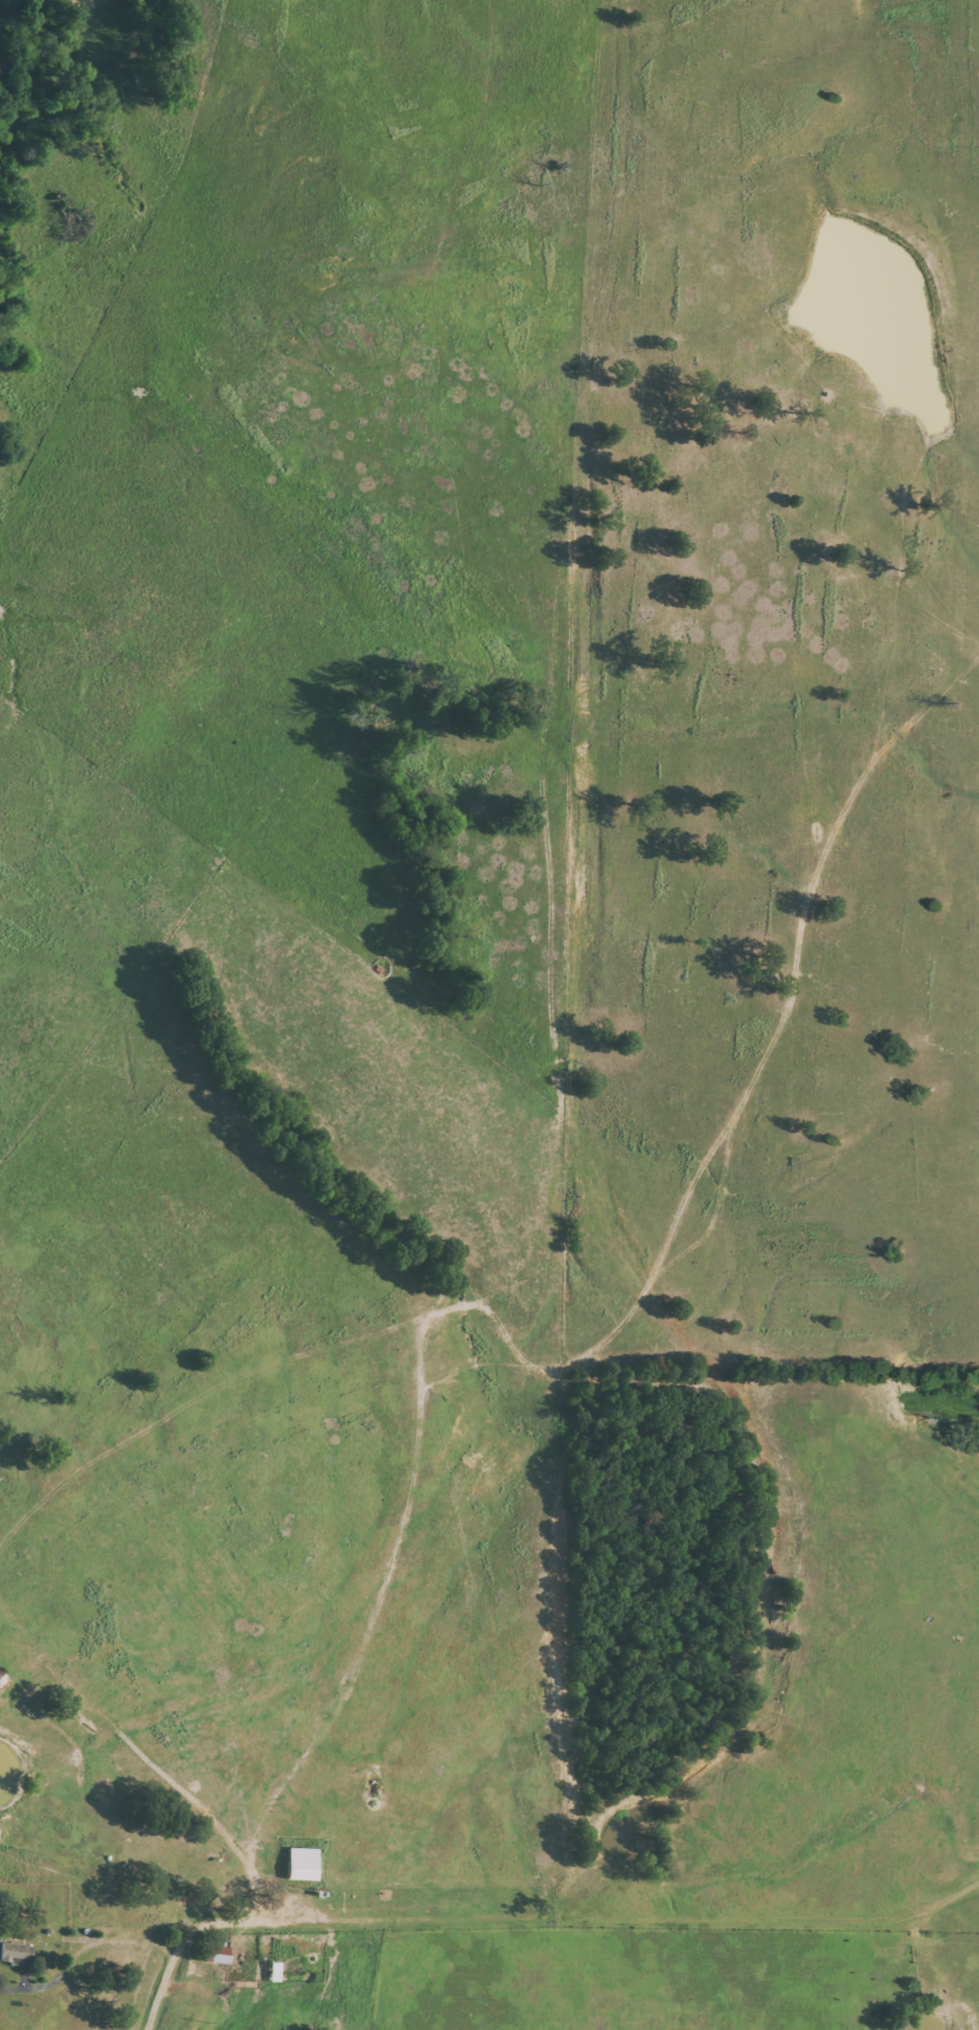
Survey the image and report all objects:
building: (3, 1682)
building: (302, 1864)
building: (16, 1954)
building: (220, 1956)

